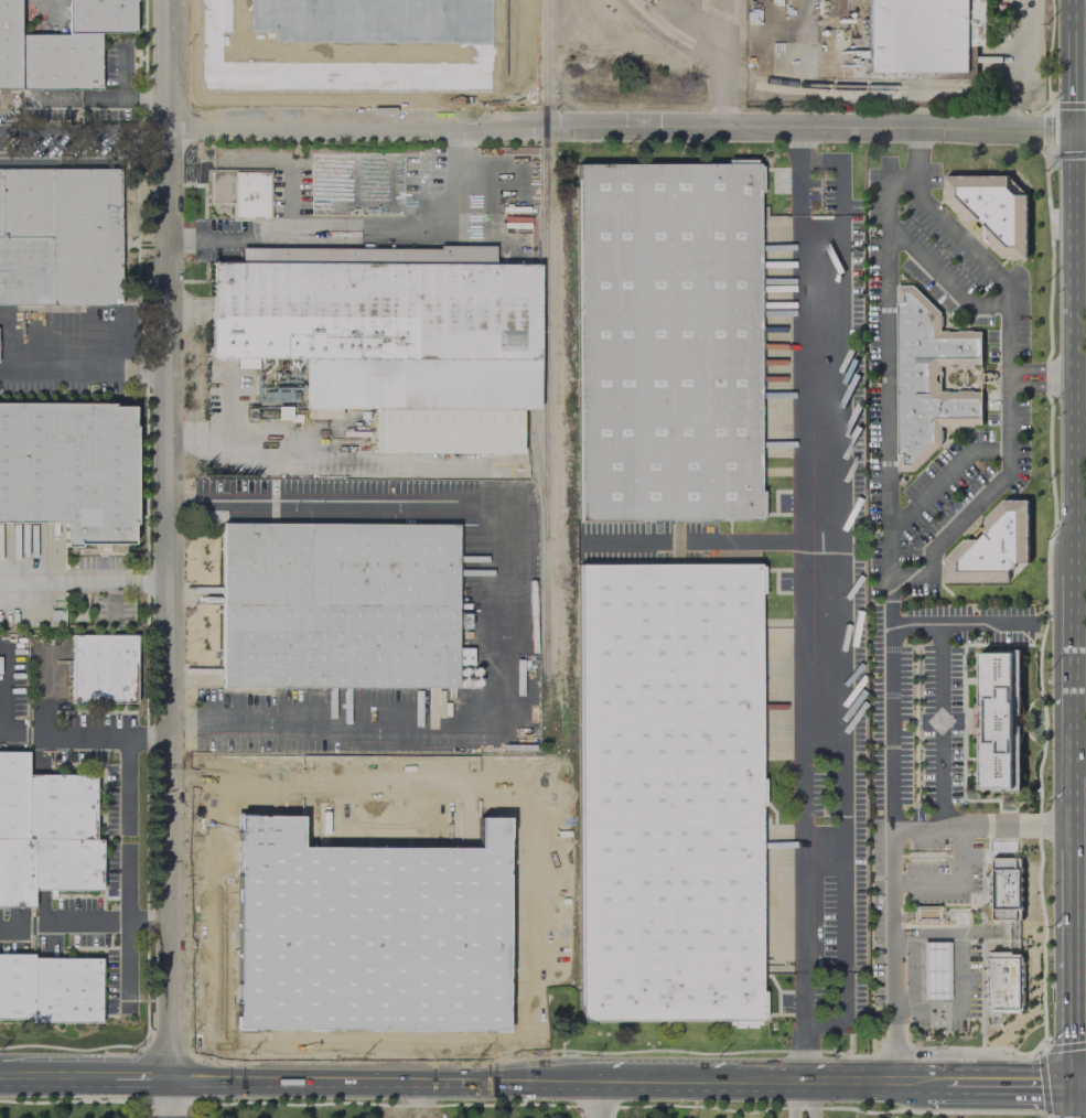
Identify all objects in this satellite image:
road: (41, 9)
building: (923, 39)
building: (58, 45)
building: (346, 45)
road: (719, 63)
road: (1010, 64)
road: (1071, 64)
railway: (789, 85)
road: (616, 126)
road: (144, 129)
traffic signals: (1072, 129)
road: (1078, 129)
road: (126, 142)
road: (910, 152)
road: (838, 190)
building: (240, 192)
building: (992, 211)
building: (58, 237)
road: (364, 237)
road: (942, 278)
railway: (547, 342)
building: (666, 342)
building: (391, 343)
road: (1072, 353)
building: (246, 363)
road: (888, 364)
road: (83, 372)
road: (1040, 377)
building: (928, 379)
building: (282, 412)
road: (819, 424)
road: (236, 437)
railway: (539, 462)
building: (68, 469)
road: (943, 477)
road: (168, 540)
road: (701, 541)
building: (993, 548)
road: (83, 577)
building: (340, 606)
road: (501, 621)
road: (960, 625)
road: (1071, 639)
building: (462, 656)
building: (101, 668)
building: (998, 720)
road: (940, 728)
road: (84, 737)
road: (1071, 741)
road: (811, 743)
road: (513, 771)
building: (668, 792)
building: (14, 794)
building: (62, 806)
road: (981, 829)
road: (203, 841)
road: (822, 851)
building: (68, 866)
building: (17, 873)
road: (951, 884)
building: (1010, 889)
building: (924, 913)
building: (367, 920)
road: (84, 924)
road: (1072, 933)
building: (934, 969)
road: (956, 971)
building: (1003, 981)
building: (17, 987)
building: (67, 991)
road: (56, 1078)
road: (140, 1081)
road: (429, 1083)
road: (734, 1085)
road: (835, 1085)
road: (918, 1086)
road: (1009, 1086)
road: (1079, 1086)
traffic signals: (1073, 1087)
road: (169, 1099)
road: (593, 1100)
road: (791, 1101)
road: (810, 1101)
road: (1073, 1103)

